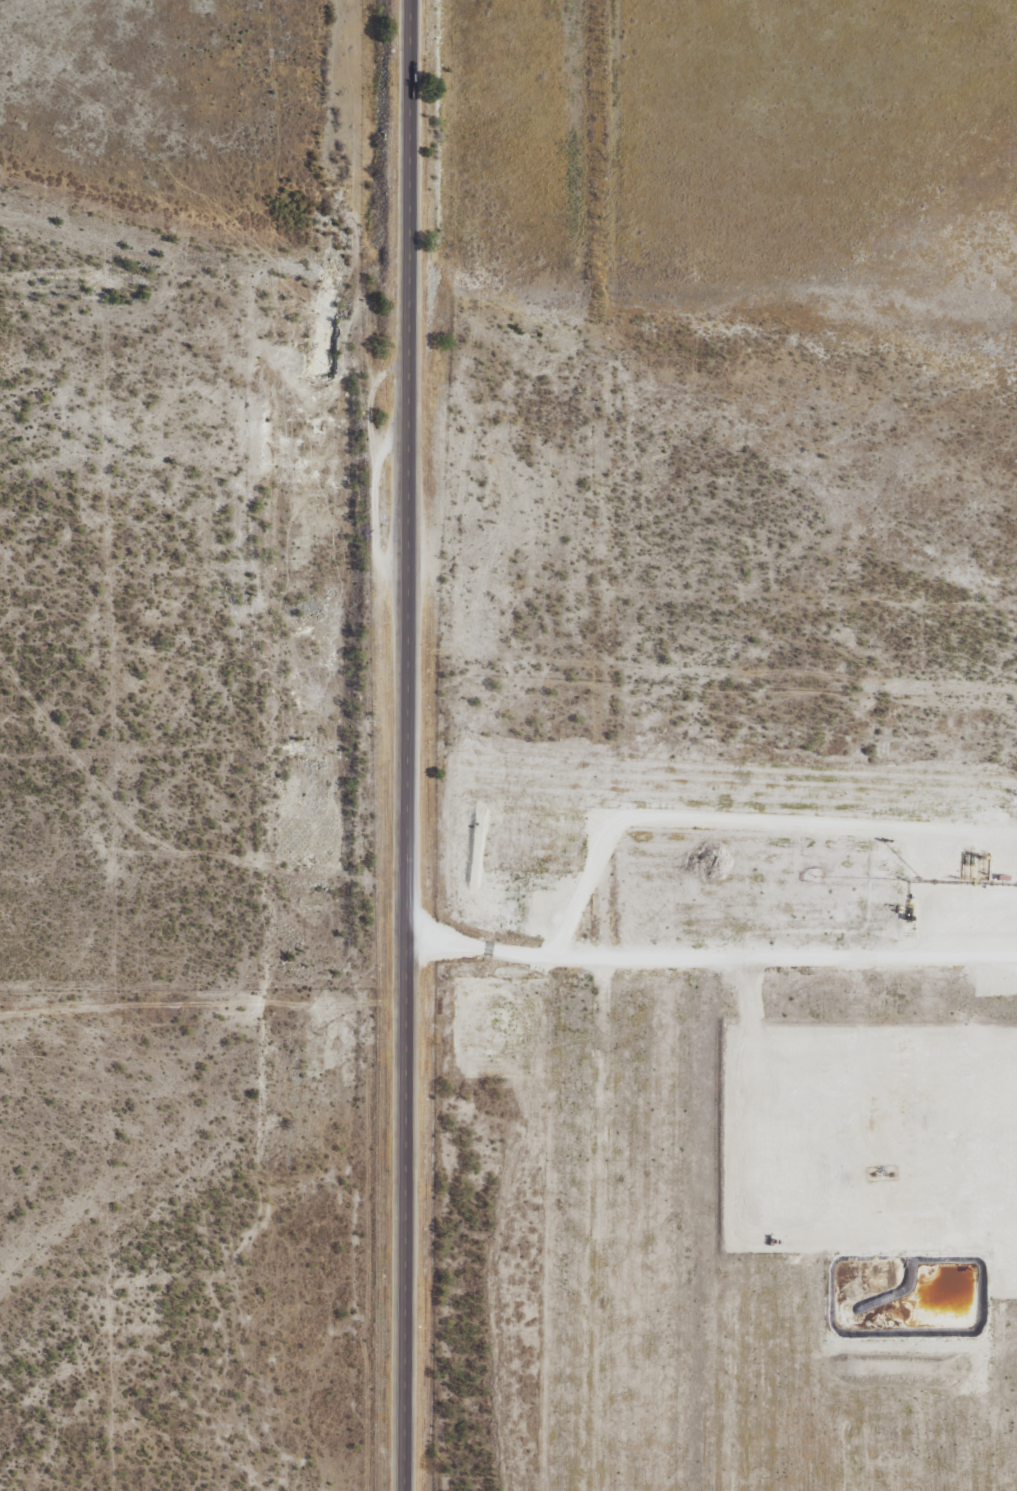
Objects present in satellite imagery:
road: (401, 745)
road: (454, 934)

